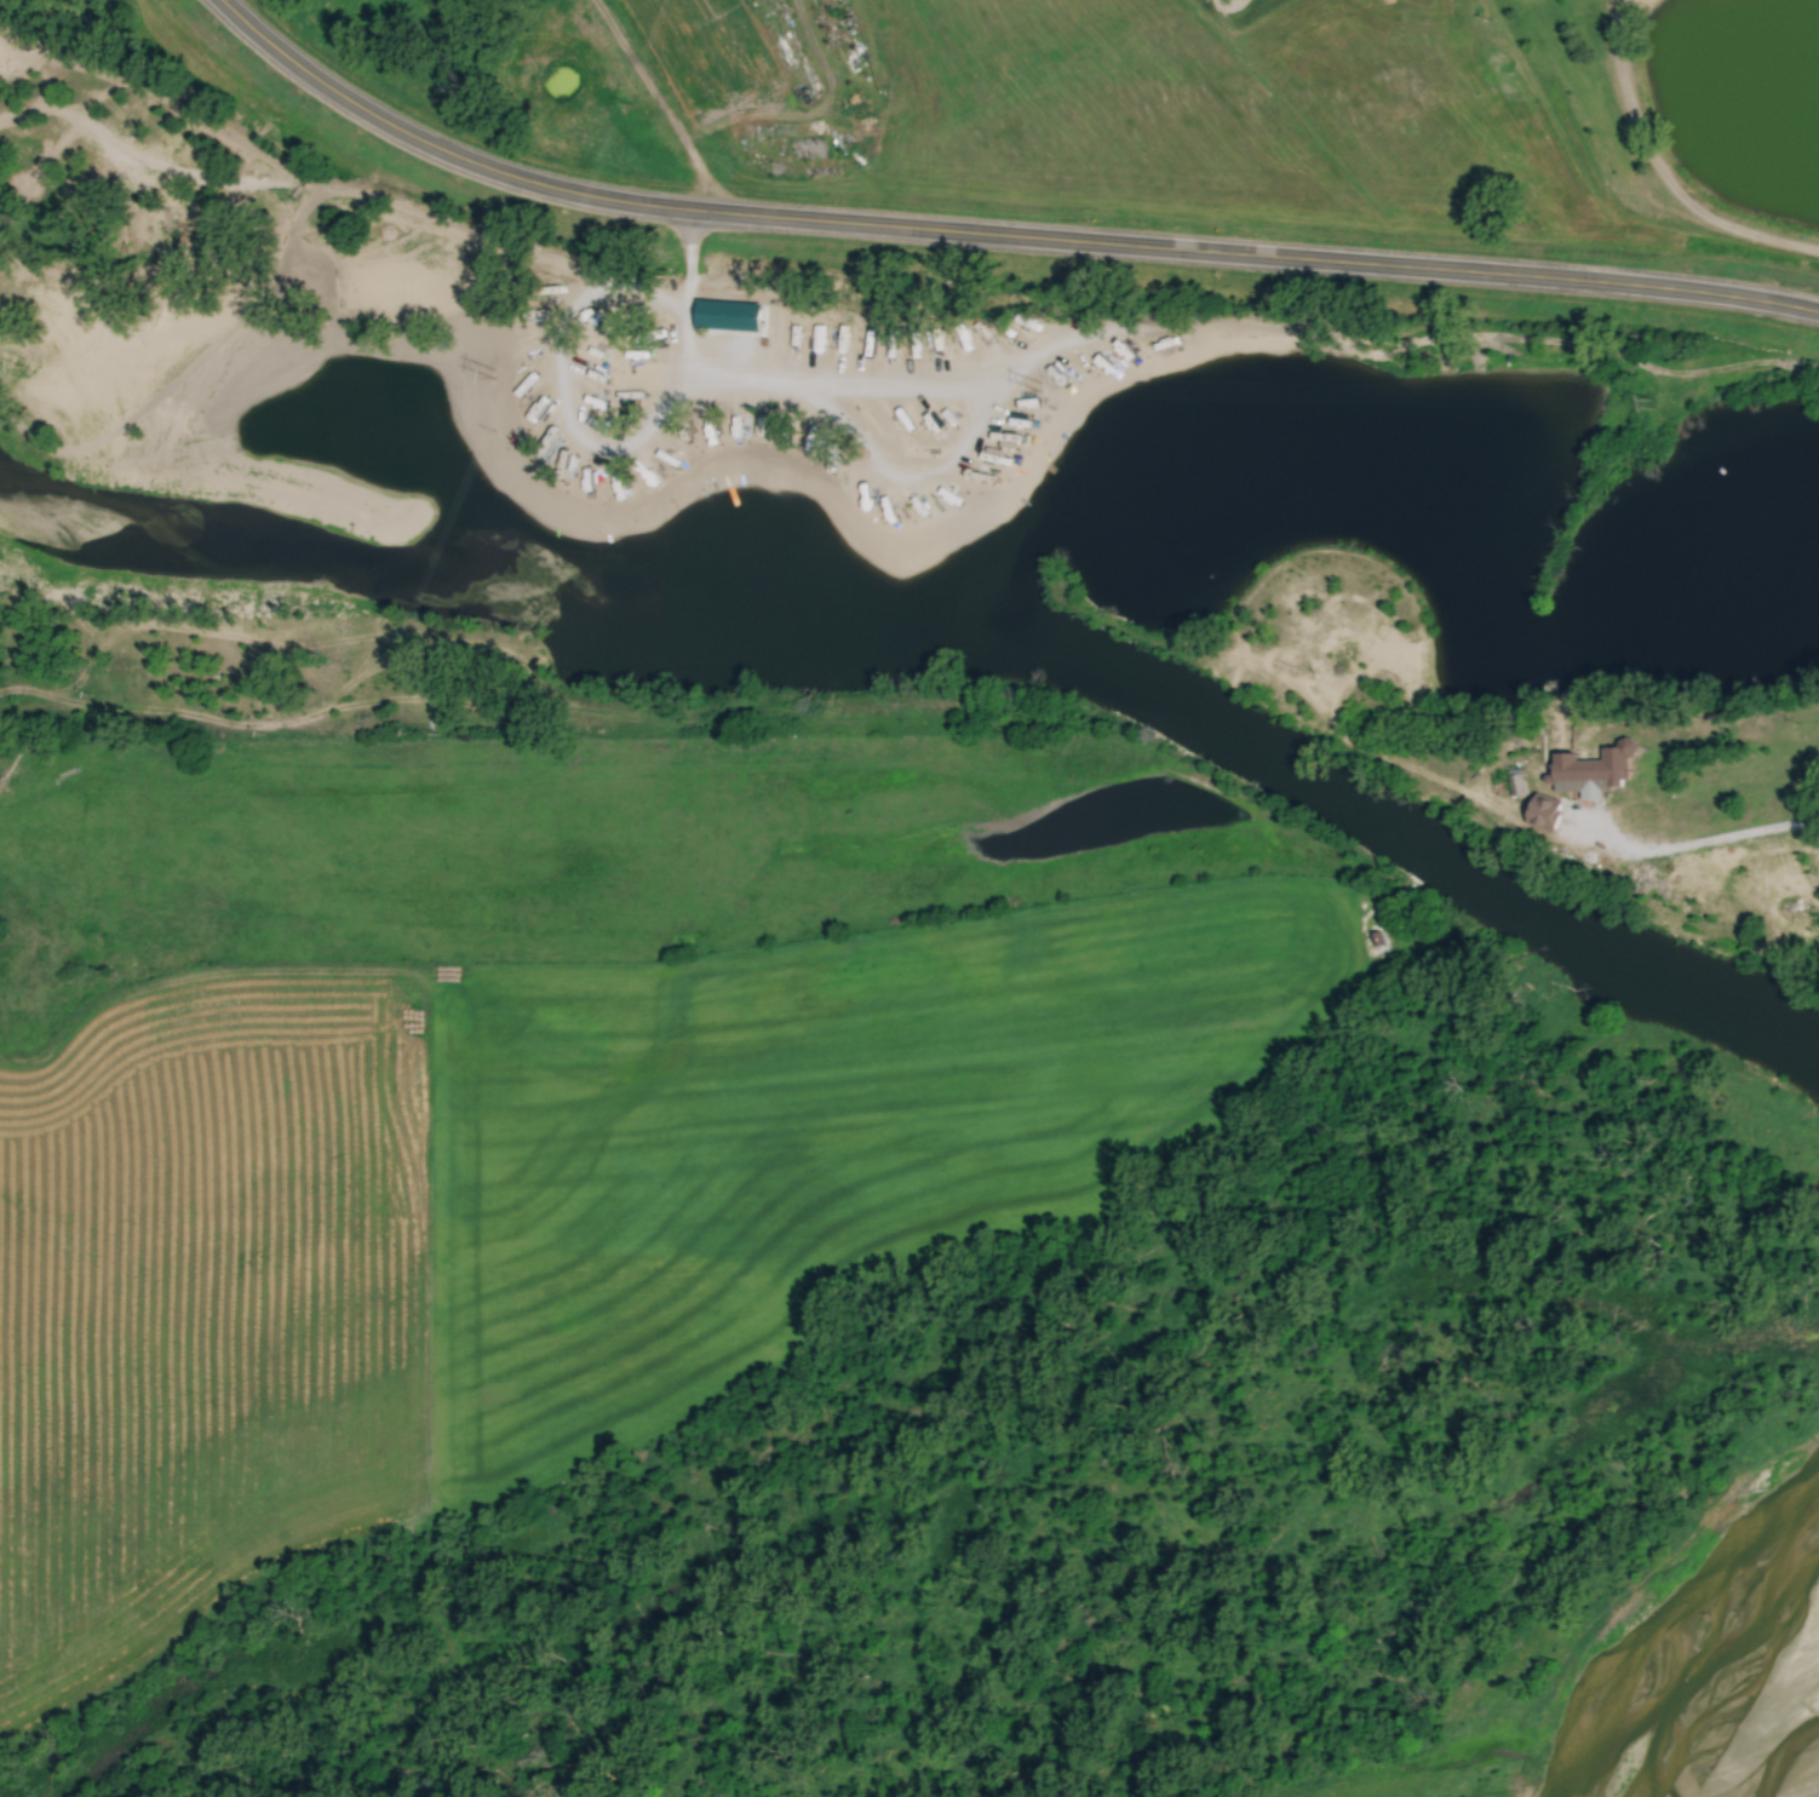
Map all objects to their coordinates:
road: (1660, 171)
road: (987, 240)
road: (690, 302)
building: (721, 314)
building: (768, 337)
building: (208, 672)
building: (1597, 774)
building: (1521, 786)
building: (1551, 814)
road: (1717, 839)
road: (1567, 845)

